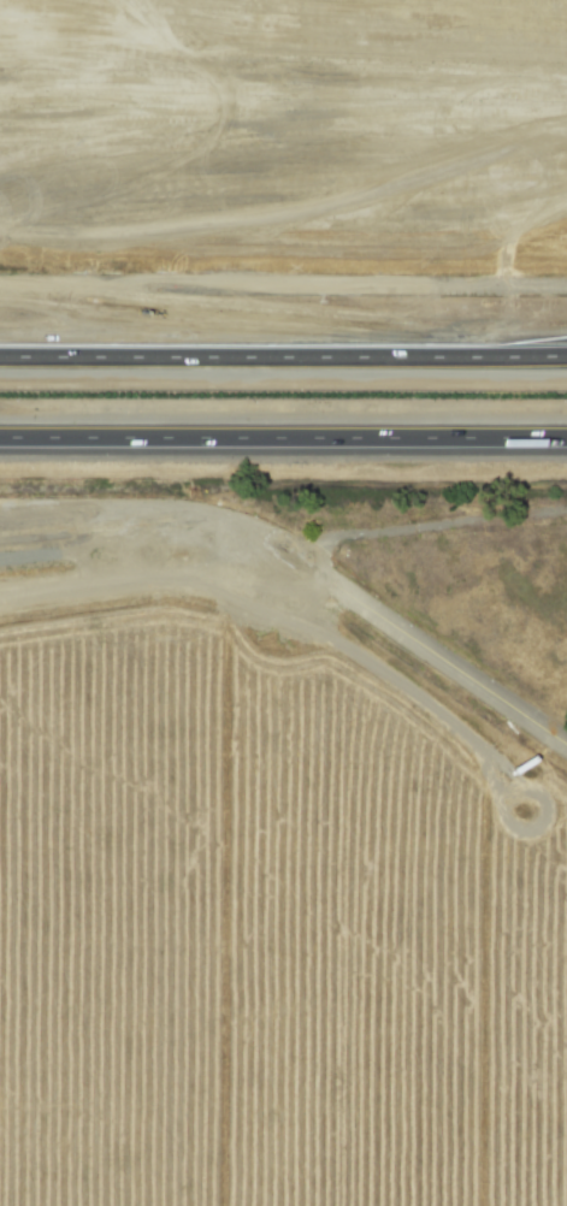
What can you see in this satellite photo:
road: (390, 288)
road: (159, 326)
road: (158, 350)
road: (442, 351)
road: (283, 441)
road: (303, 586)

